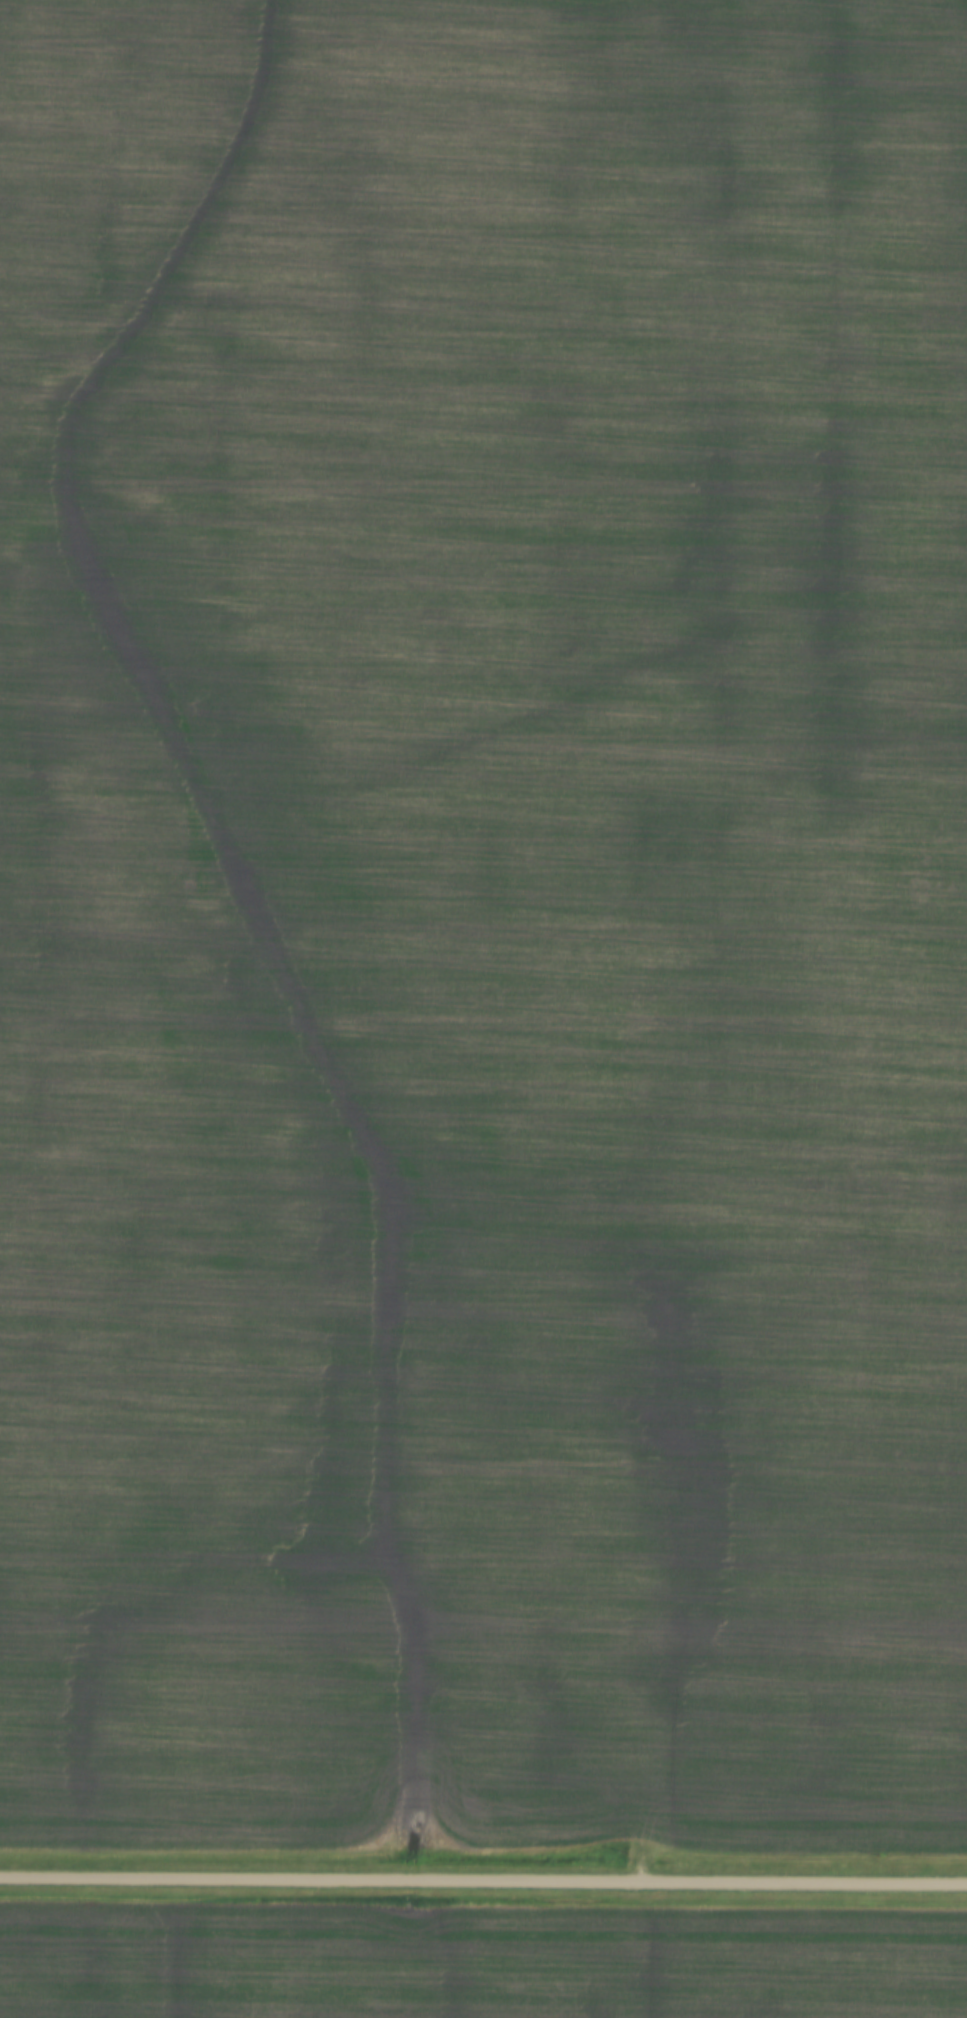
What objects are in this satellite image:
road: (483, 1881)

